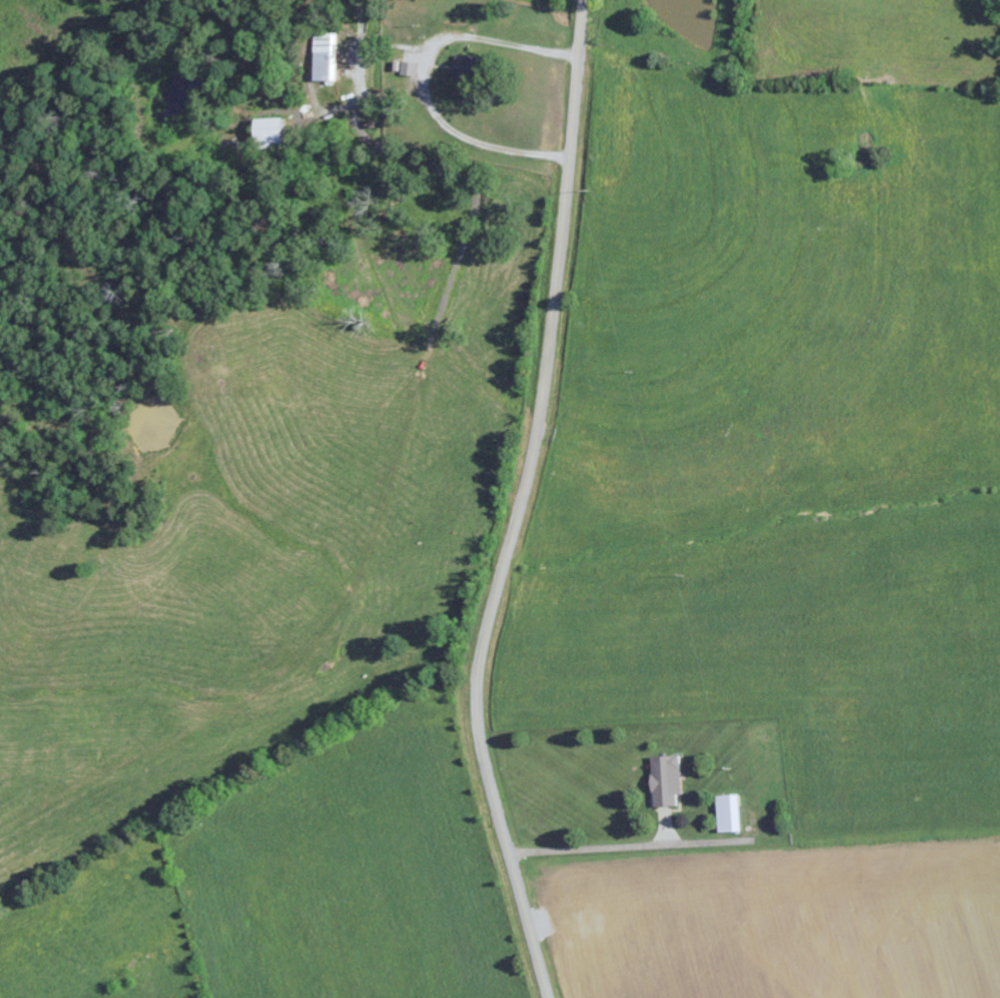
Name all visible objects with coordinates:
building: (328, 59)
building: (471, 67)
building: (411, 69)
building: (273, 134)
road: (519, 503)
building: (668, 780)
building: (732, 813)

